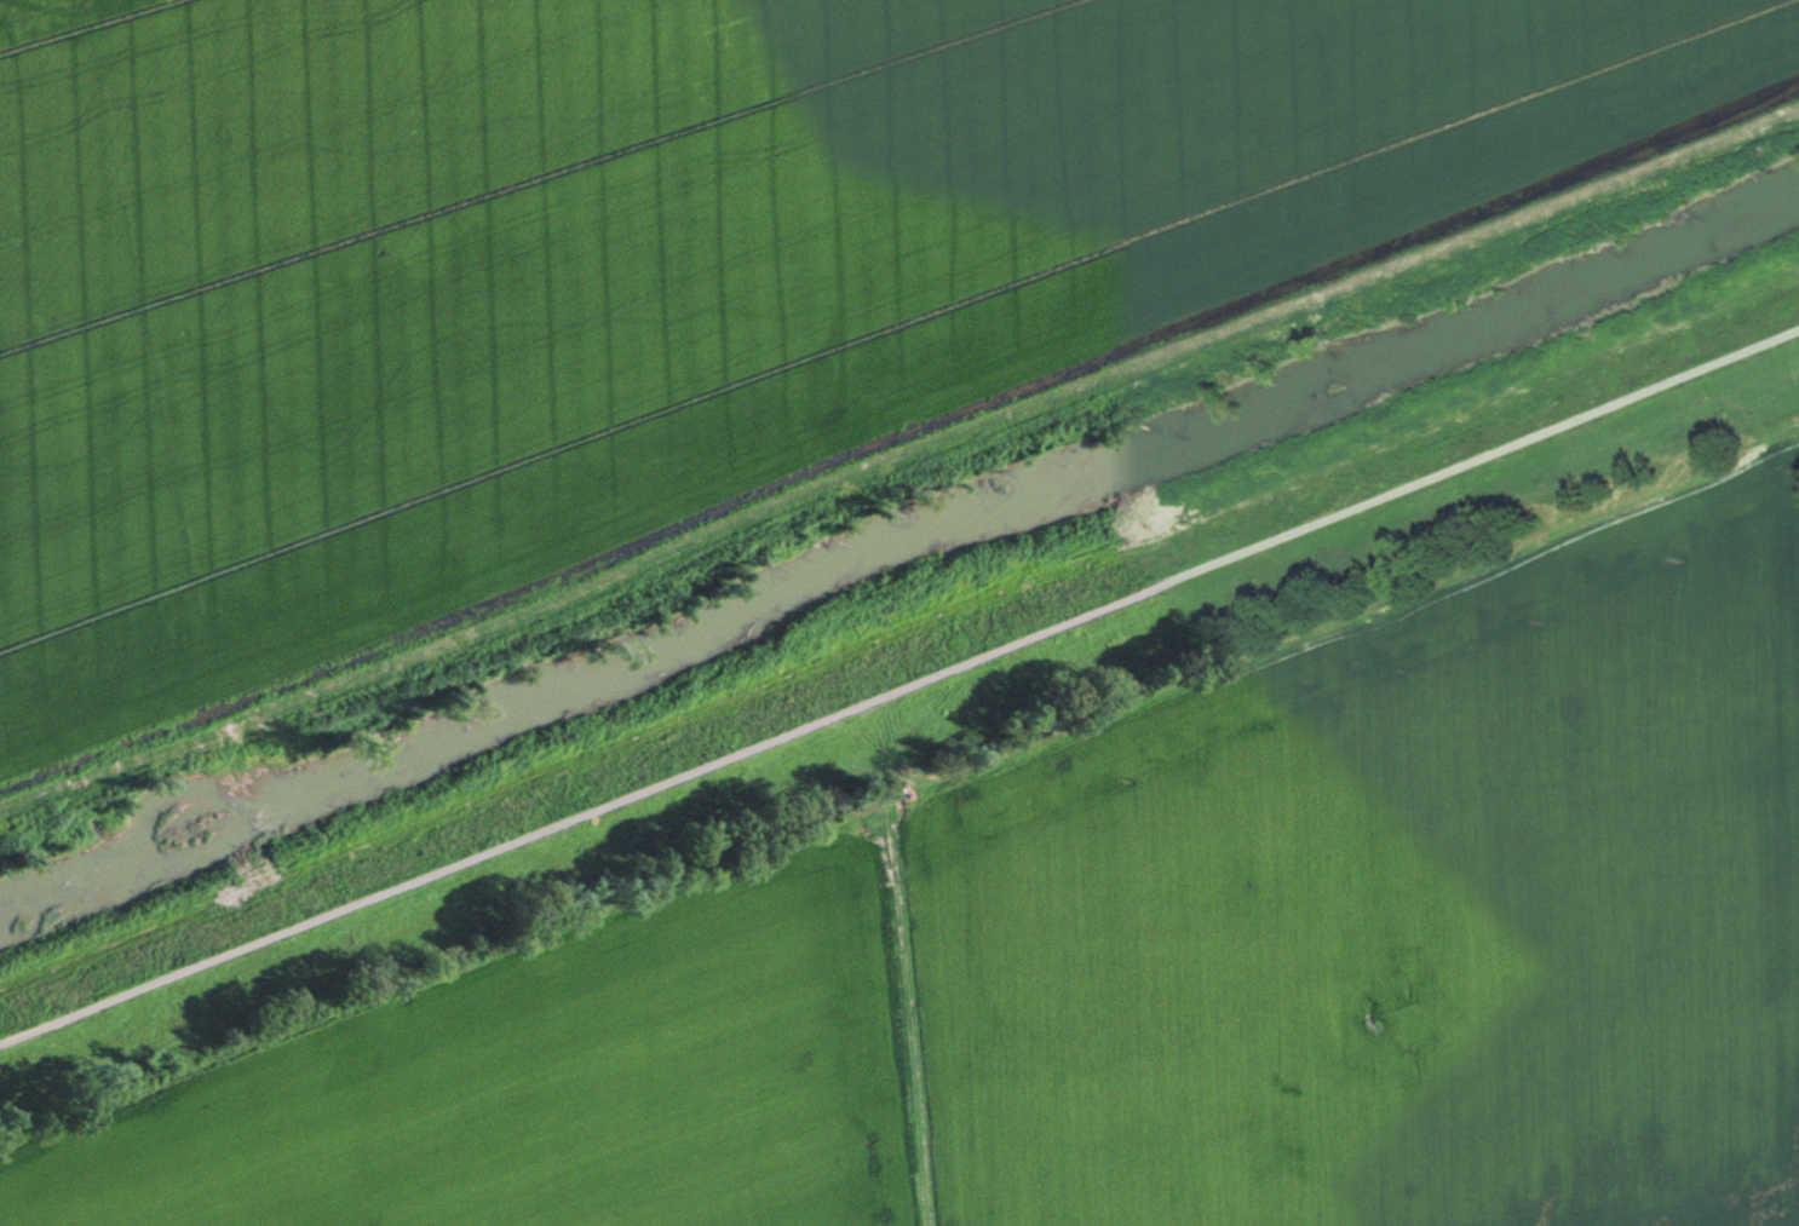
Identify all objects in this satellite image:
river: (892, 540)
road: (899, 689)

